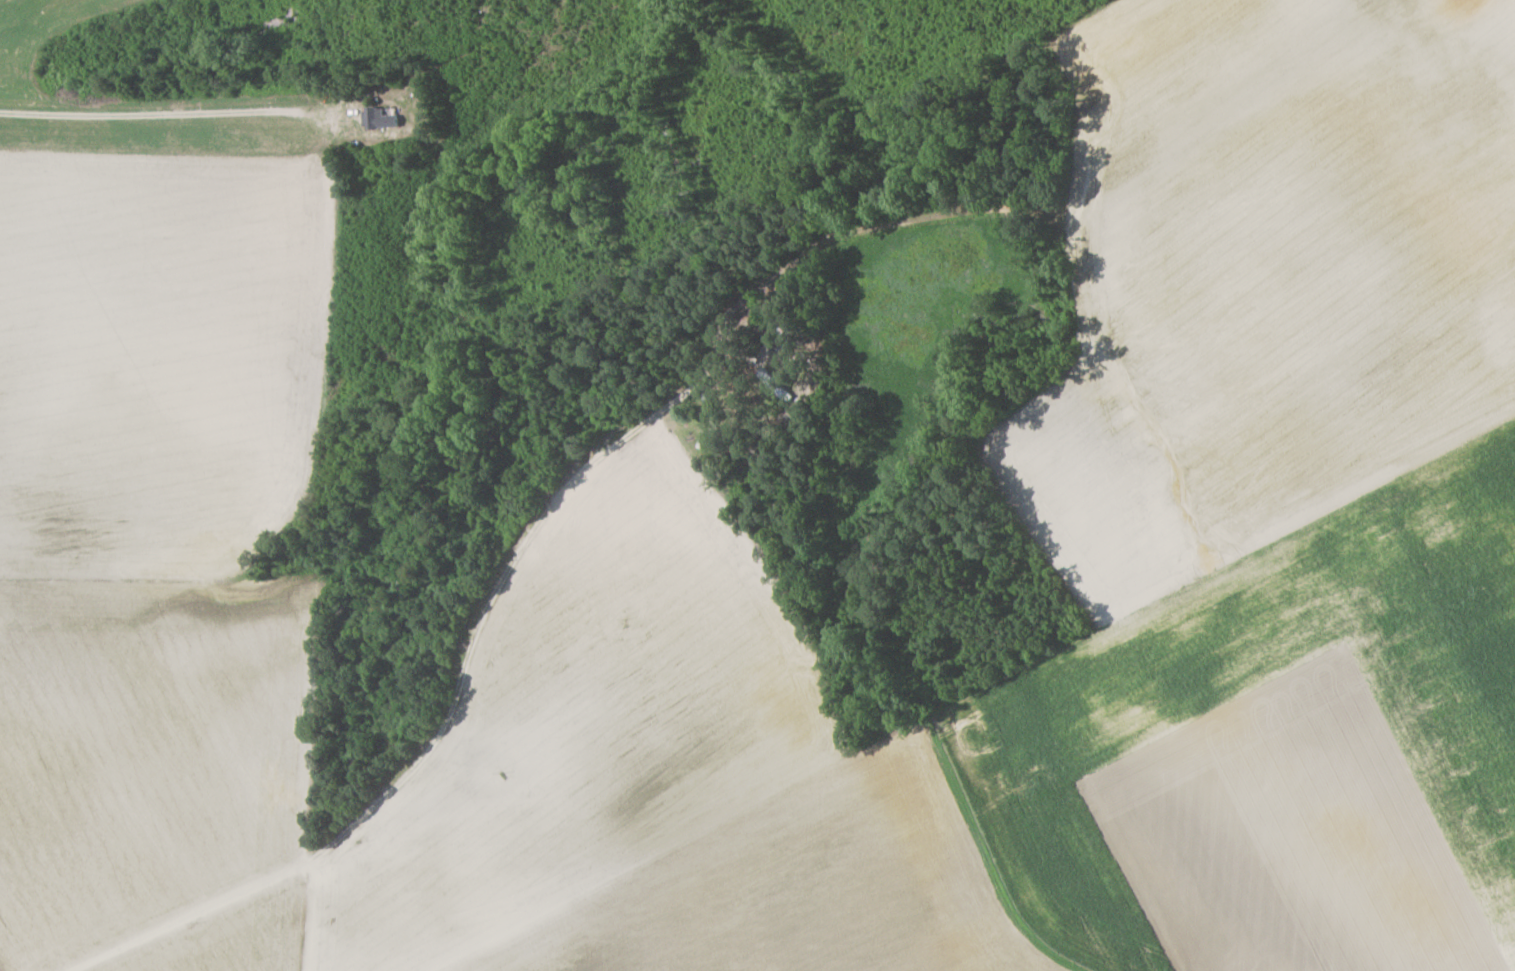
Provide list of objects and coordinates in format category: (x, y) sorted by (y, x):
building: (379, 117)
road: (429, 746)

